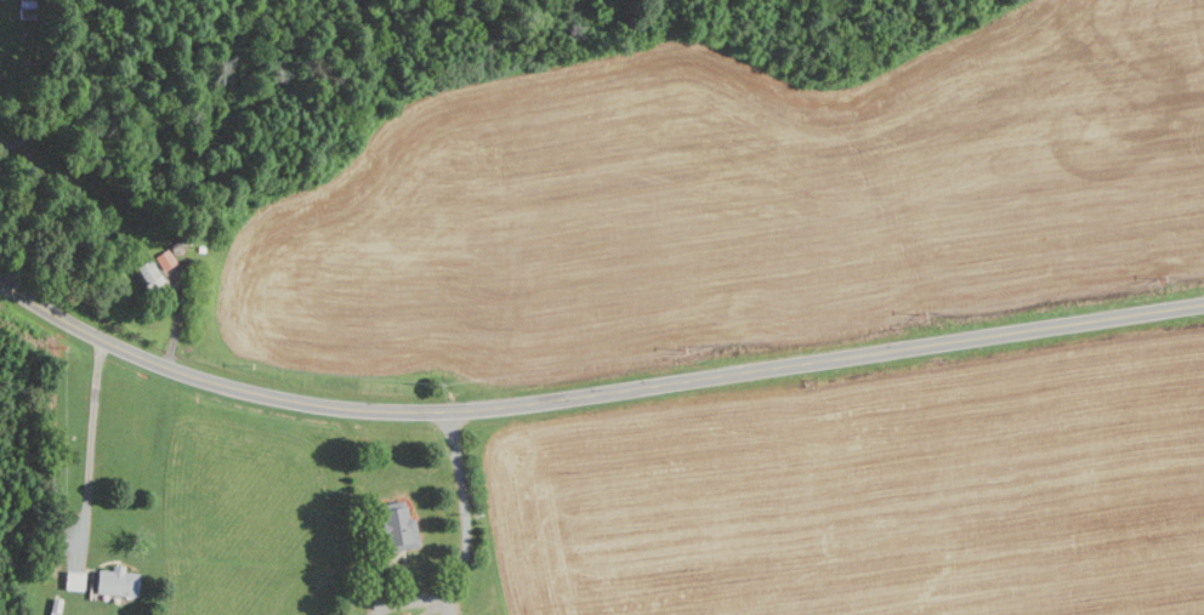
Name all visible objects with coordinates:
building: (165, 260)
building: (149, 274)
road: (591, 394)
road: (95, 439)
road: (464, 502)
building: (398, 525)
building: (117, 582)
road: (413, 602)
road: (450, 603)

